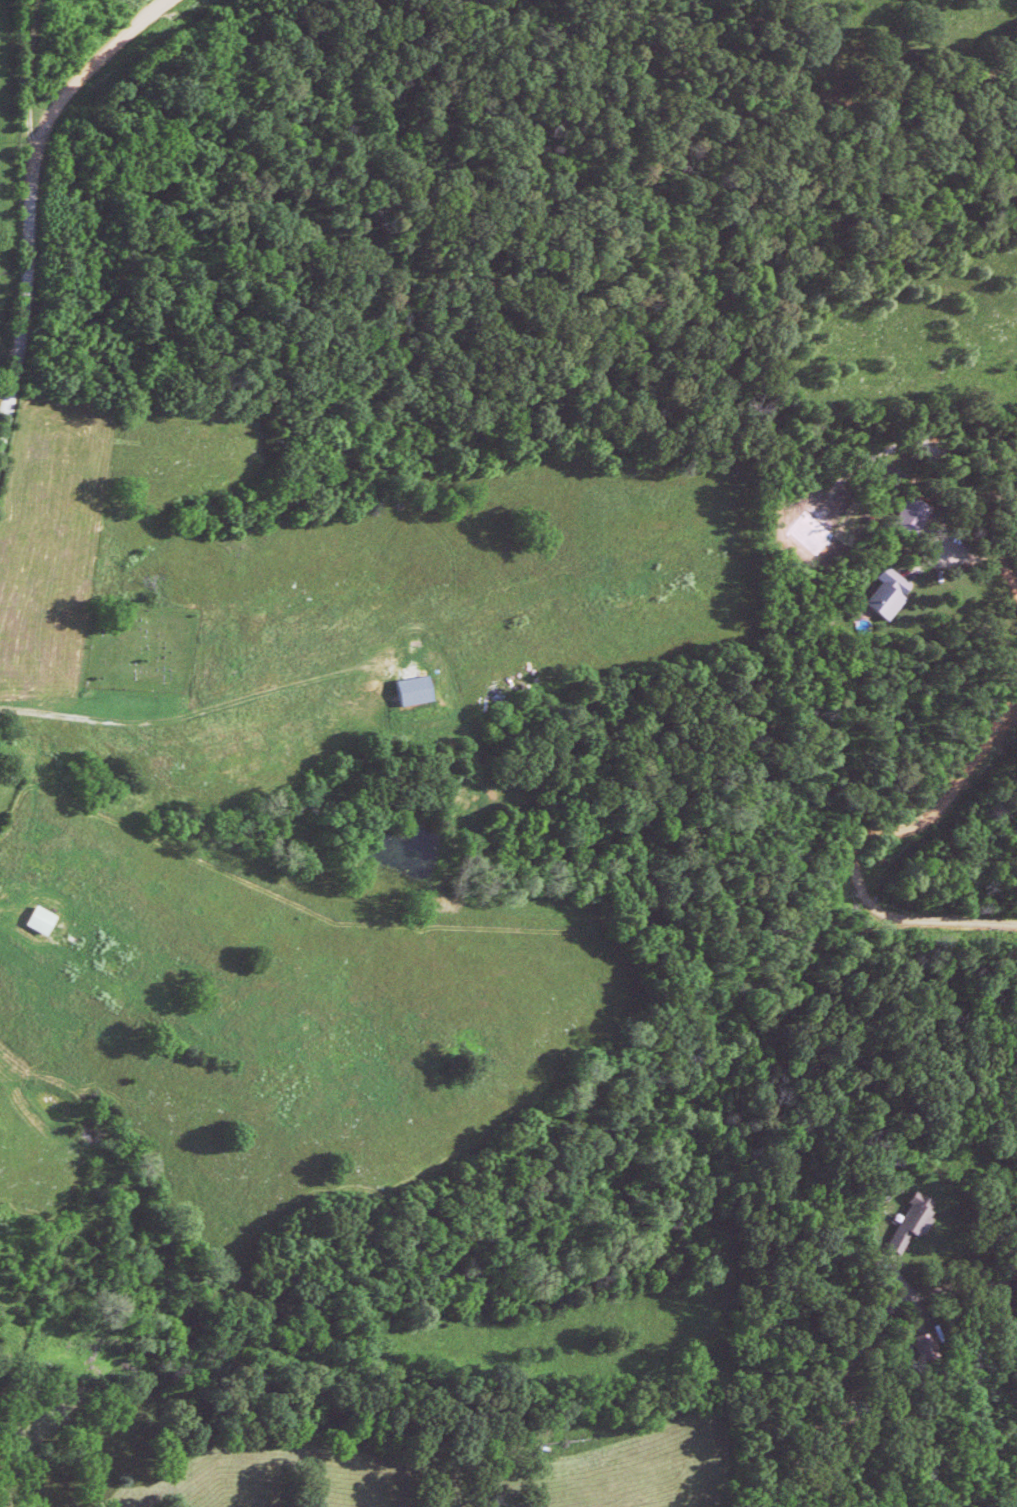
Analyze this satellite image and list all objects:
road: (28, 194)
building: (903, 515)
road: (987, 564)
building: (878, 593)
building: (403, 689)
road: (868, 841)
building: (905, 1220)
building: (919, 1344)

